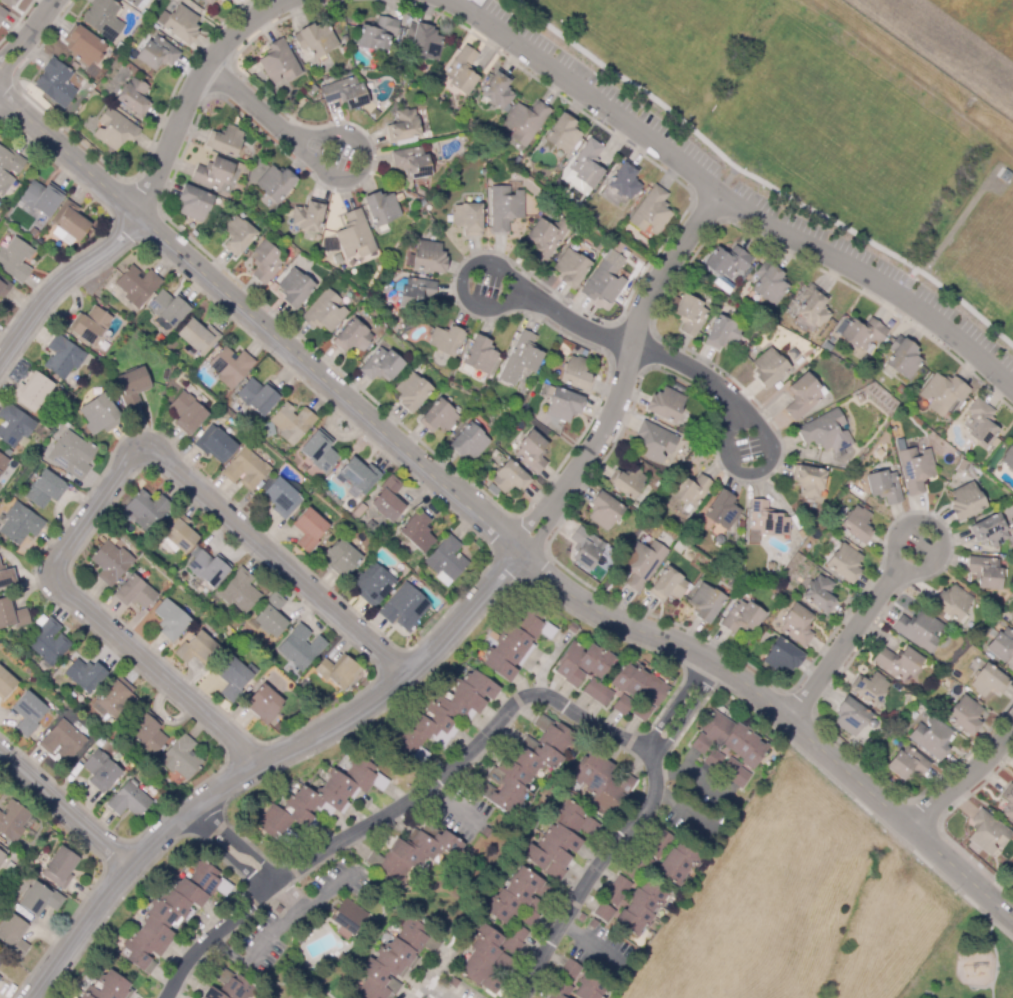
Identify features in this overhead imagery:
building: (227, 0)
building: (208, 1)
building: (8, 2)
building: (132, 2)
building: (2, 14)
building: (103, 18)
building: (181, 25)
building: (377, 33)
road: (28, 34)
building: (316, 39)
airport: (950, 40)
building: (423, 42)
building: (85, 47)
building: (120, 47)
building: (157, 53)
building: (307, 57)
building: (278, 61)
building: (398, 68)
building: (462, 70)
building: (55, 83)
road: (194, 86)
building: (498, 90)
building: (345, 92)
building: (135, 96)
road: (259, 108)
building: (525, 121)
building: (404, 125)
park: (819, 127)
building: (115, 129)
building: (562, 134)
road: (321, 137)
building: (226, 141)
building: (411, 162)
building: (586, 166)
building: (8, 167)
building: (213, 173)
road: (758, 179)
building: (625, 180)
building: (275, 183)
road: (722, 197)
building: (42, 198)
building: (194, 203)
building: (505, 207)
building: (381, 208)
building: (651, 211)
building: (307, 216)
building: (468, 218)
building: (70, 220)
building: (237, 235)
building: (355, 235)
building: (546, 237)
building: (331, 247)
building: (429, 257)
building: (15, 259)
building: (727, 261)
building: (265, 262)
building: (571, 268)
building: (605, 279)
road: (62, 283)
building: (769, 284)
building: (137, 285)
road: (511, 286)
building: (4, 287)
building: (295, 288)
building: (415, 293)
building: (389, 306)
building: (813, 306)
building: (168, 307)
building: (325, 312)
building: (690, 314)
road: (570, 323)
building: (90, 325)
building: (722, 333)
building: (862, 333)
building: (198, 336)
building: (353, 336)
building: (447, 339)
building: (479, 355)
building: (62, 357)
building: (903, 357)
building: (520, 358)
building: (381, 364)
building: (230, 366)
building: (769, 367)
building: (576, 373)
road: (695, 375)
building: (132, 387)
building: (900, 389)
building: (411, 391)
building: (32, 392)
building: (943, 393)
building: (258, 396)
building: (802, 396)
building: (860, 398)
building: (563, 404)
building: (665, 404)
building: (186, 413)
building: (99, 414)
building: (439, 416)
building: (292, 423)
road: (747, 423)
building: (980, 423)
building: (13, 425)
building: (823, 430)
building: (469, 442)
building: (654, 442)
building: (215, 444)
building: (319, 451)
building: (8, 452)
building: (531, 452)
building: (71, 455)
building: (1008, 458)
building: (17, 460)
building: (3, 463)
building: (960, 465)
building: (916, 469)
building: (246, 470)
building: (359, 475)
building: (510, 478)
road: (111, 480)
building: (808, 480)
building: (627, 482)
building: (883, 486)
building: (44, 489)
building: (690, 490)
building: (281, 498)
building: (389, 499)
building: (965, 501)
building: (146, 510)
building: (604, 510)
building: (722, 510)
building: (359, 511)
building: (767, 520)
building: (20, 523)
building: (856, 524)
road: (492, 527)
building: (309, 529)
building: (990, 530)
building: (417, 531)
building: (179, 532)
building: (719, 539)
building: (585, 547)
building: (339, 558)
building: (446, 558)
building: (111, 562)
building: (844, 562)
building: (642, 563)
building: (208, 568)
road: (912, 571)
building: (984, 571)
building: (6, 577)
building: (372, 584)
building: (668, 584)
building: (734, 584)
building: (239, 591)
building: (134, 592)
building: (820, 593)
building: (951, 602)
building: (705, 603)
building: (404, 608)
building: (11, 614)
building: (271, 615)
building: (742, 617)
building: (170, 619)
building: (797, 624)
building: (573, 628)
building: (919, 630)
building: (47, 642)
building: (516, 642)
road: (845, 643)
building: (1001, 645)
building: (298, 648)
building: (197, 649)
road: (437, 650)
building: (782, 656)
building: (899, 662)
building: (582, 663)
building: (337, 671)
building: (85, 675)
building: (234, 677)
building: (988, 681)
building: (5, 683)
building: (869, 688)
building: (637, 691)
building: (597, 692)
building: (907, 698)
building: (117, 699)
building: (263, 704)
road: (682, 707)
building: (28, 712)
building: (965, 714)
road: (579, 715)
building: (443, 716)
building: (850, 716)
building: (148, 733)
building: (932, 737)
building: (62, 740)
building: (727, 741)
building: (180, 757)
building: (907, 763)
building: (526, 764)
building: (100, 771)
building: (735, 772)
road: (960, 780)
road: (700, 781)
building: (601, 782)
building: (128, 800)
building: (321, 800)
building: (1008, 800)
road: (456, 807)
road: (63, 809)
road: (687, 814)
building: (13, 821)
building: (486, 832)
building: (987, 832)
road: (237, 839)
building: (560, 840)
building: (659, 844)
road: (224, 852)
building: (413, 852)
building: (2, 853)
building: (678, 862)
building: (10, 866)
building: (60, 867)
building: (637, 867)
building: (372, 883)
building: (617, 890)
road: (286, 894)
building: (518, 898)
building: (40, 899)
building: (640, 908)
building: (278, 909)
road: (298, 912)
building: (604, 912)
building: (168, 916)
building: (349, 916)
building: (593, 923)
building: (13, 935)
road: (213, 936)
building: (514, 938)
road: (601, 947)
road: (230, 951)
building: (486, 959)
building: (1, 960)
building: (395, 960)
park: (972, 965)
building: (570, 968)
building: (261, 976)
road: (427, 976)
building: (0, 978)
building: (454, 983)
building: (230, 986)
building: (590, 986)
building: (108, 987)
road: (420, 989)
building: (561, 990)

